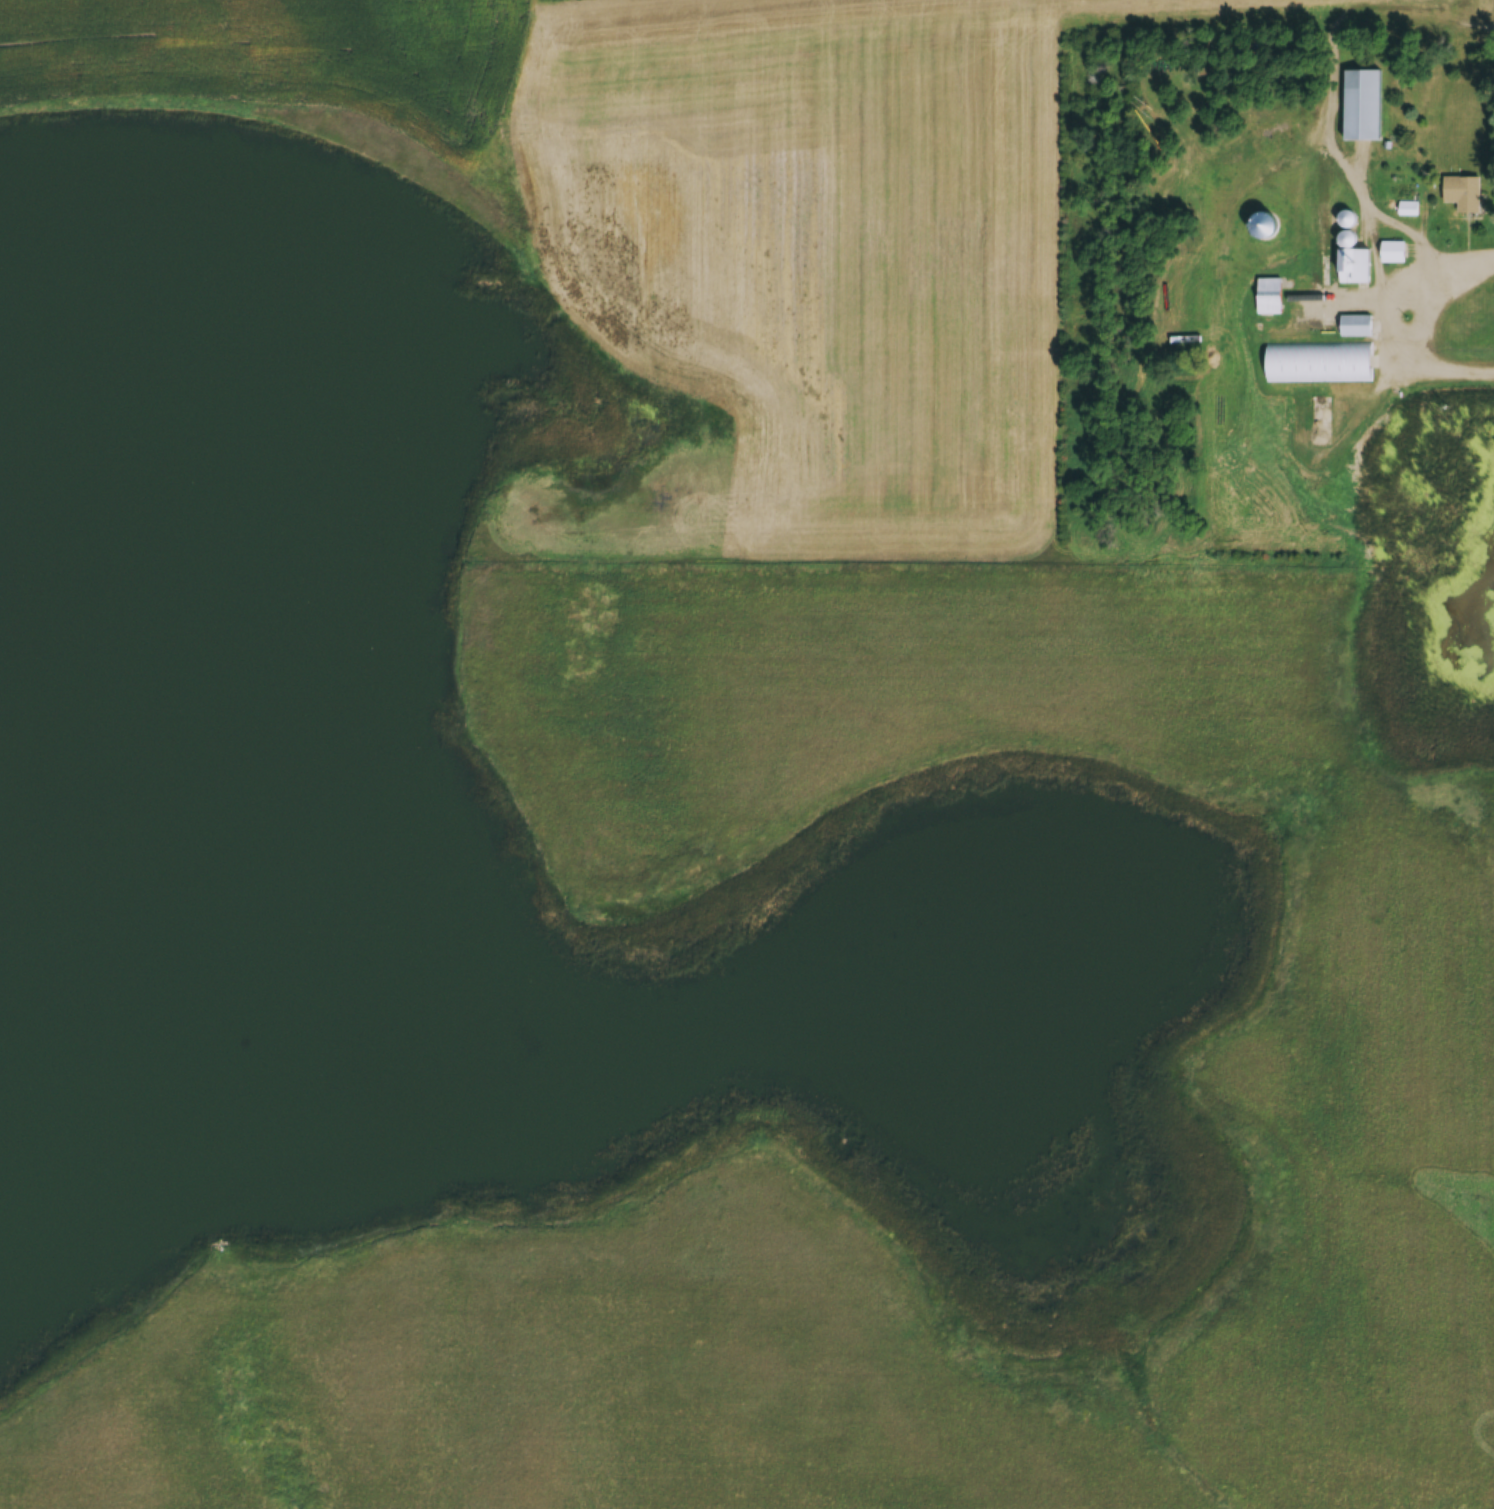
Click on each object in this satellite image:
building: (1363, 105)
building: (1463, 193)
building: (1346, 219)
building: (1393, 252)
building: (1355, 266)
building: (1269, 296)
building: (1356, 326)
building: (1319, 362)
building: (1319, 412)

